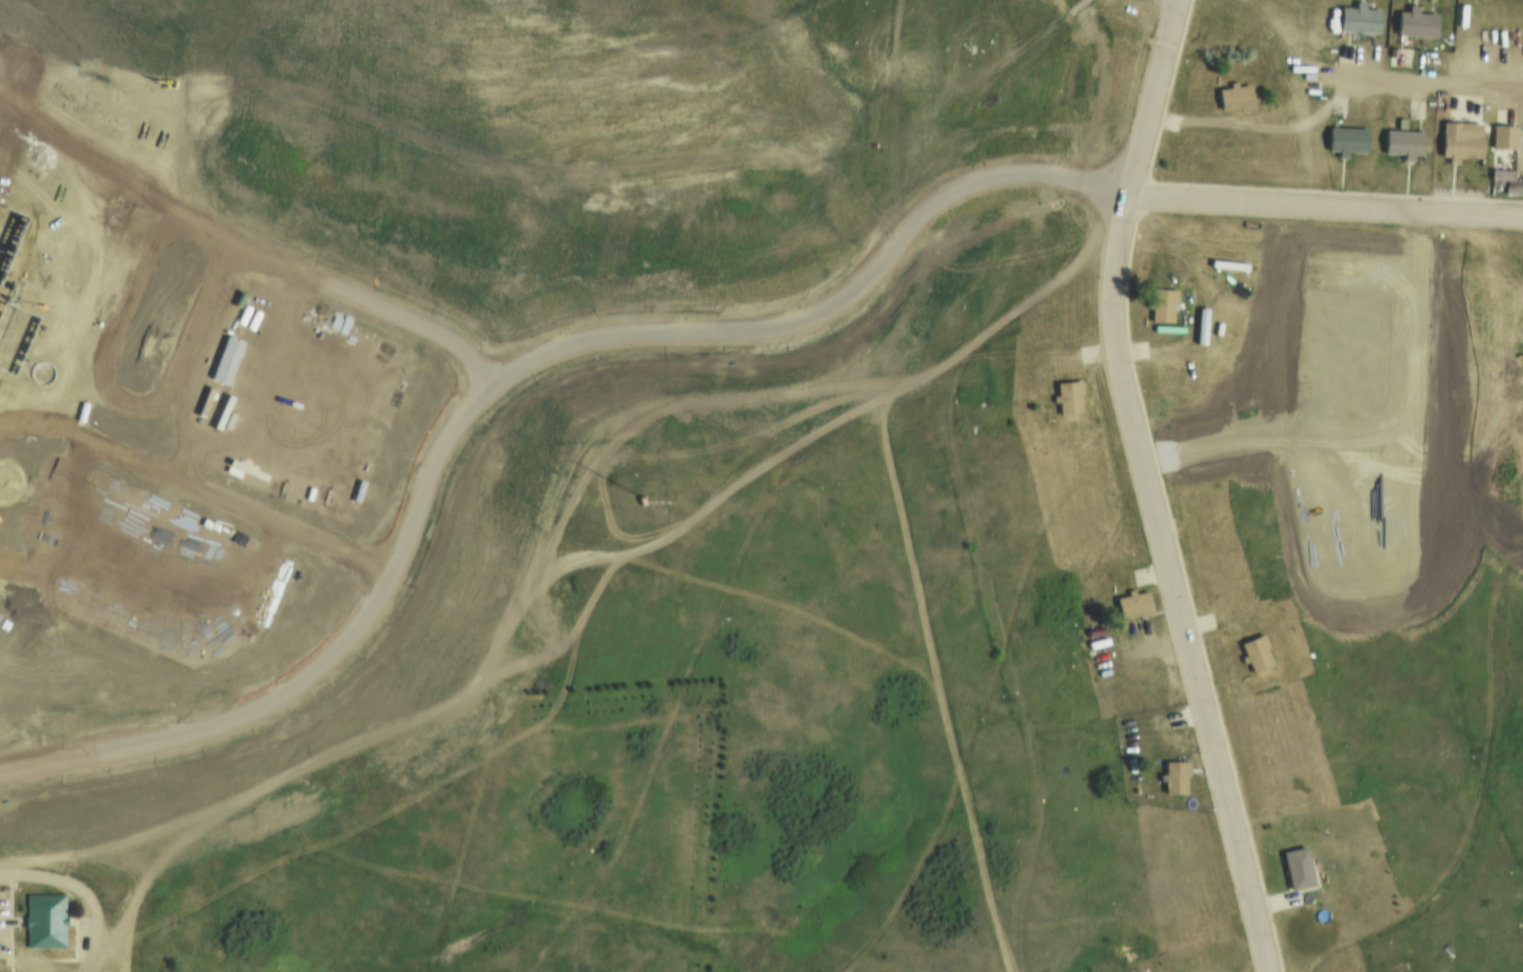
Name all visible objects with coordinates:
building: (1356, 22)
building: (1412, 26)
building: (1345, 54)
building: (1231, 99)
building: (1499, 138)
building: (1342, 141)
building: (1457, 143)
building: (1400, 146)
building: (1497, 180)
road: (1324, 209)
road: (749, 304)
building: (1160, 305)
road: (1171, 348)
building: (1065, 400)
road: (951, 438)
road: (1143, 488)
building: (639, 501)
road: (706, 507)
road: (497, 593)
building: (1131, 604)
building: (1091, 629)
building: (1252, 656)
building: (1173, 777)
road: (1487, 813)
road: (1038, 848)
building: (1295, 868)
road: (83, 890)
parking lot: (3, 908)
road: (1314, 912)
building: (44, 920)

